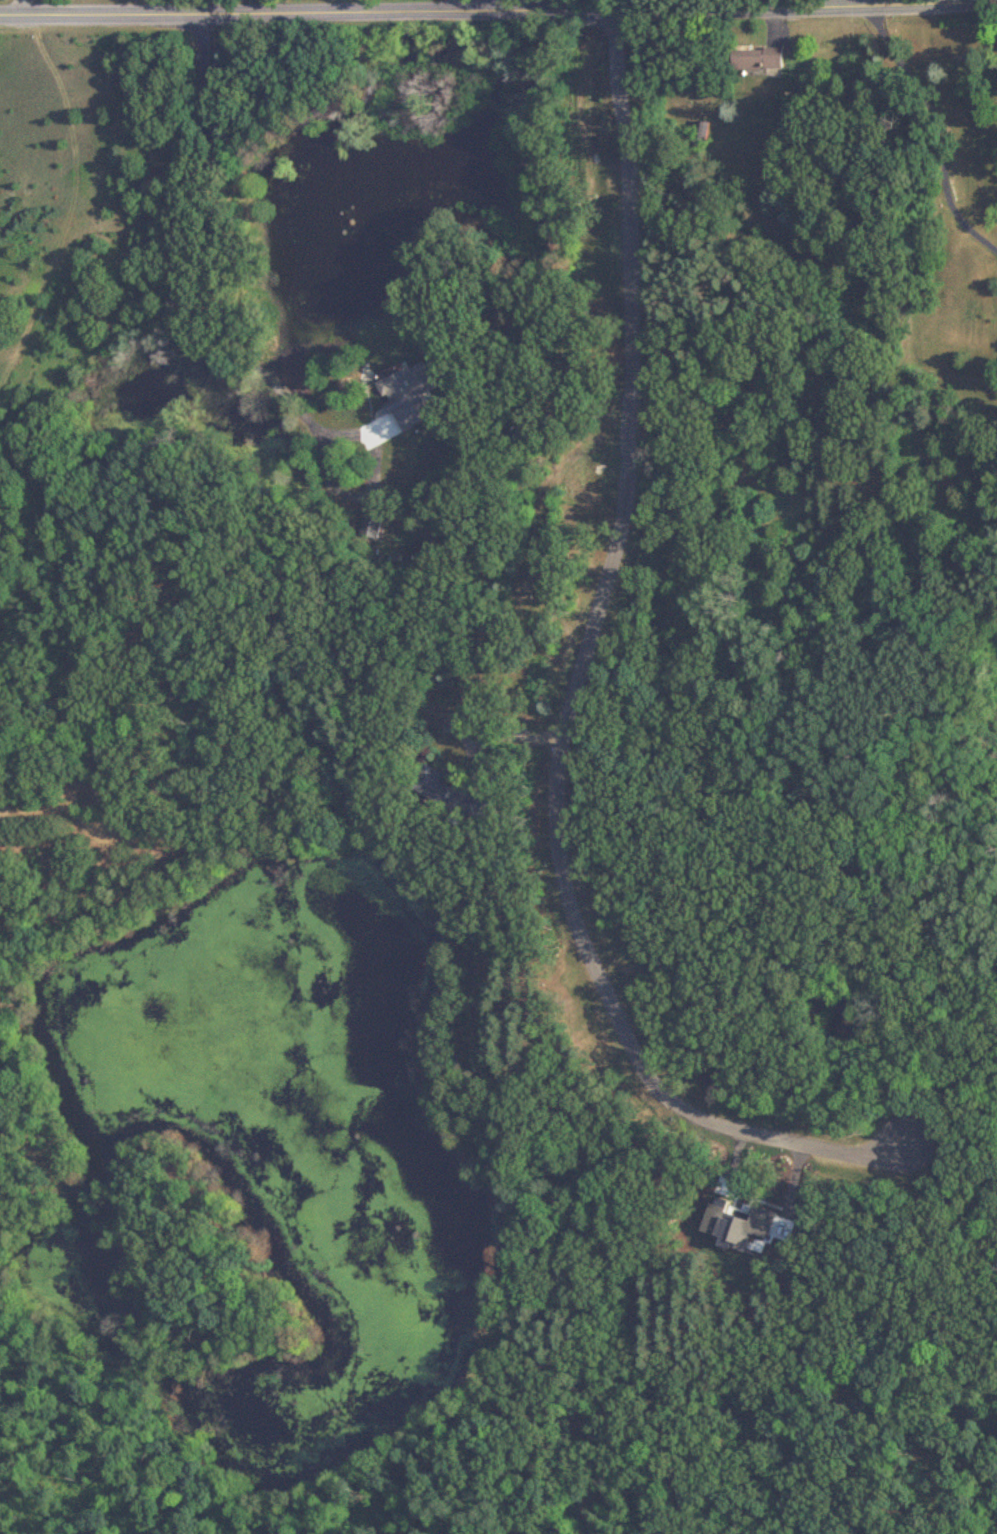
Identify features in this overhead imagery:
road: (857, 3)
road: (492, 5)
road: (605, 5)
road: (21, 7)
road: (498, 10)
building: (755, 59)
road: (938, 129)
building: (699, 135)
road: (218, 278)
road: (629, 333)
building: (405, 394)
building: (370, 527)
road: (407, 634)
building: (449, 795)
road: (558, 834)

